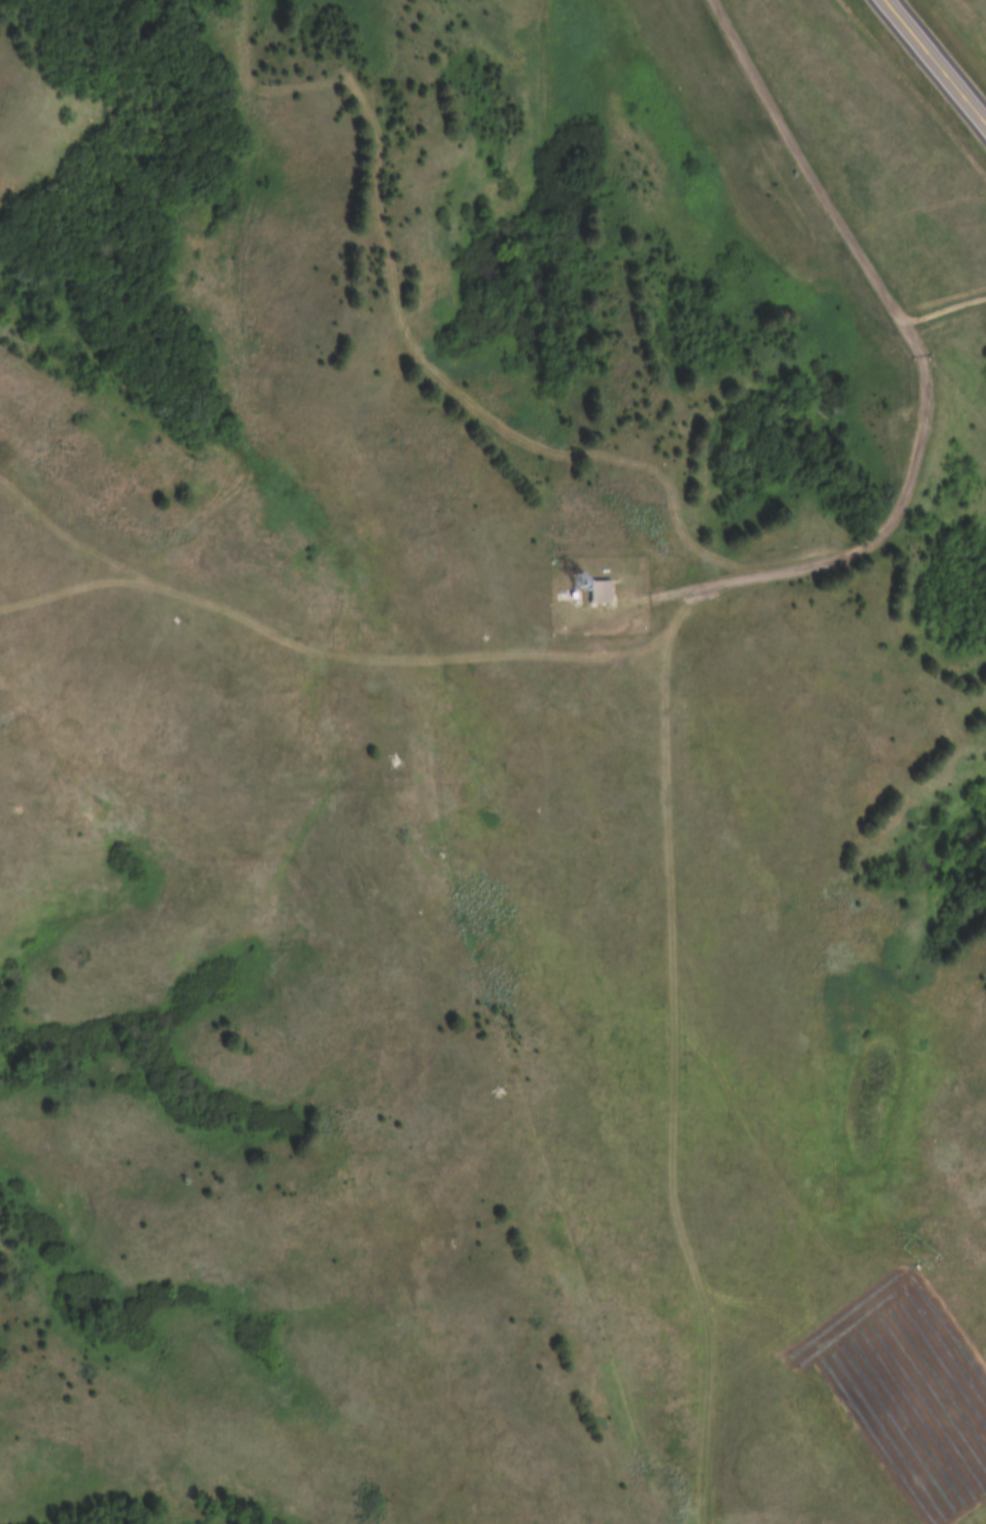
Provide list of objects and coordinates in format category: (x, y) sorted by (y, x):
road: (935, 60)
road: (915, 353)
road: (955, 388)
building: (584, 581)
road: (343, 656)

